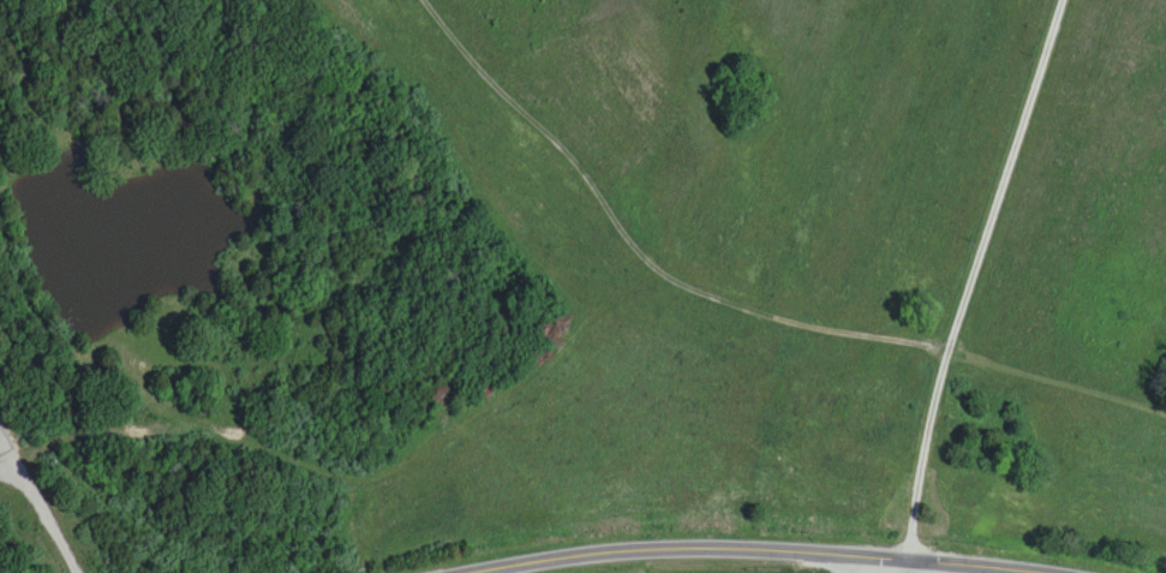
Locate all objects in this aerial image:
road: (971, 276)
road: (46, 512)
road: (754, 551)
road: (909, 567)

